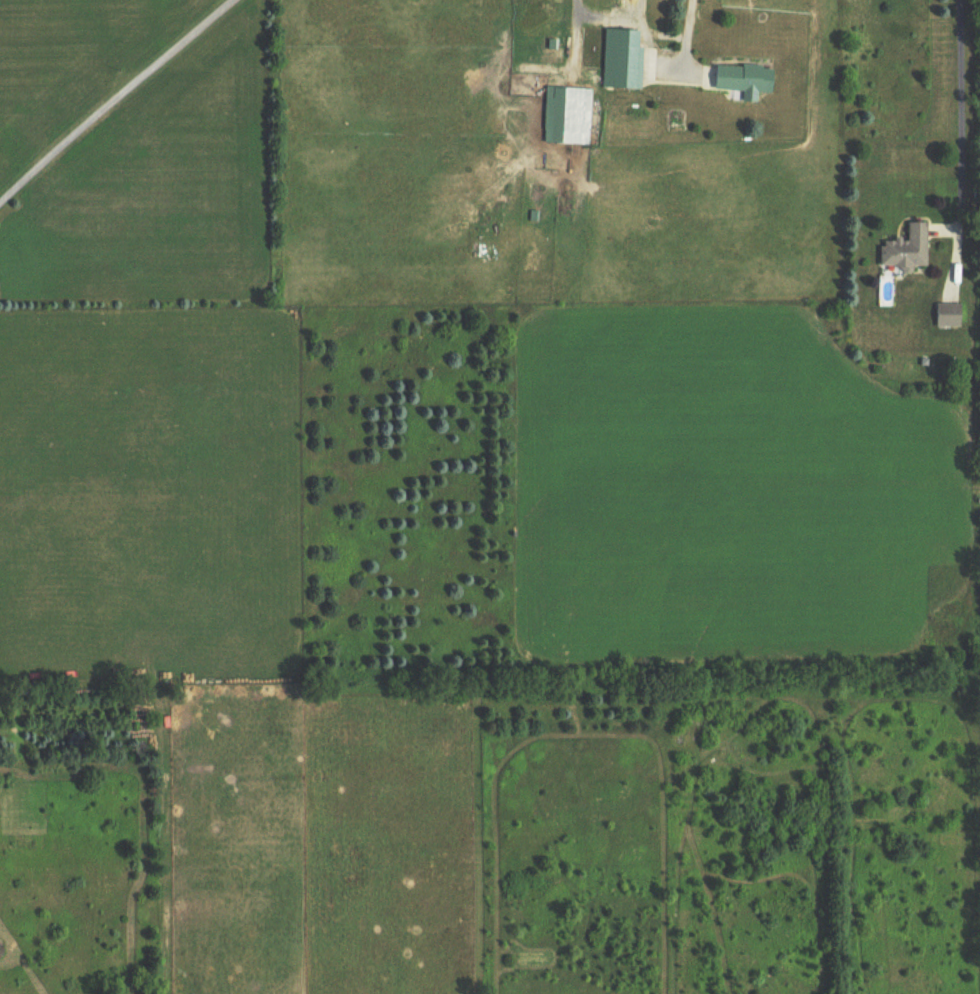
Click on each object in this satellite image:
road: (669, 60)
building: (623, 61)
building: (746, 82)
road: (112, 97)
building: (567, 118)
road: (960, 139)
building: (906, 250)
building: (947, 316)

